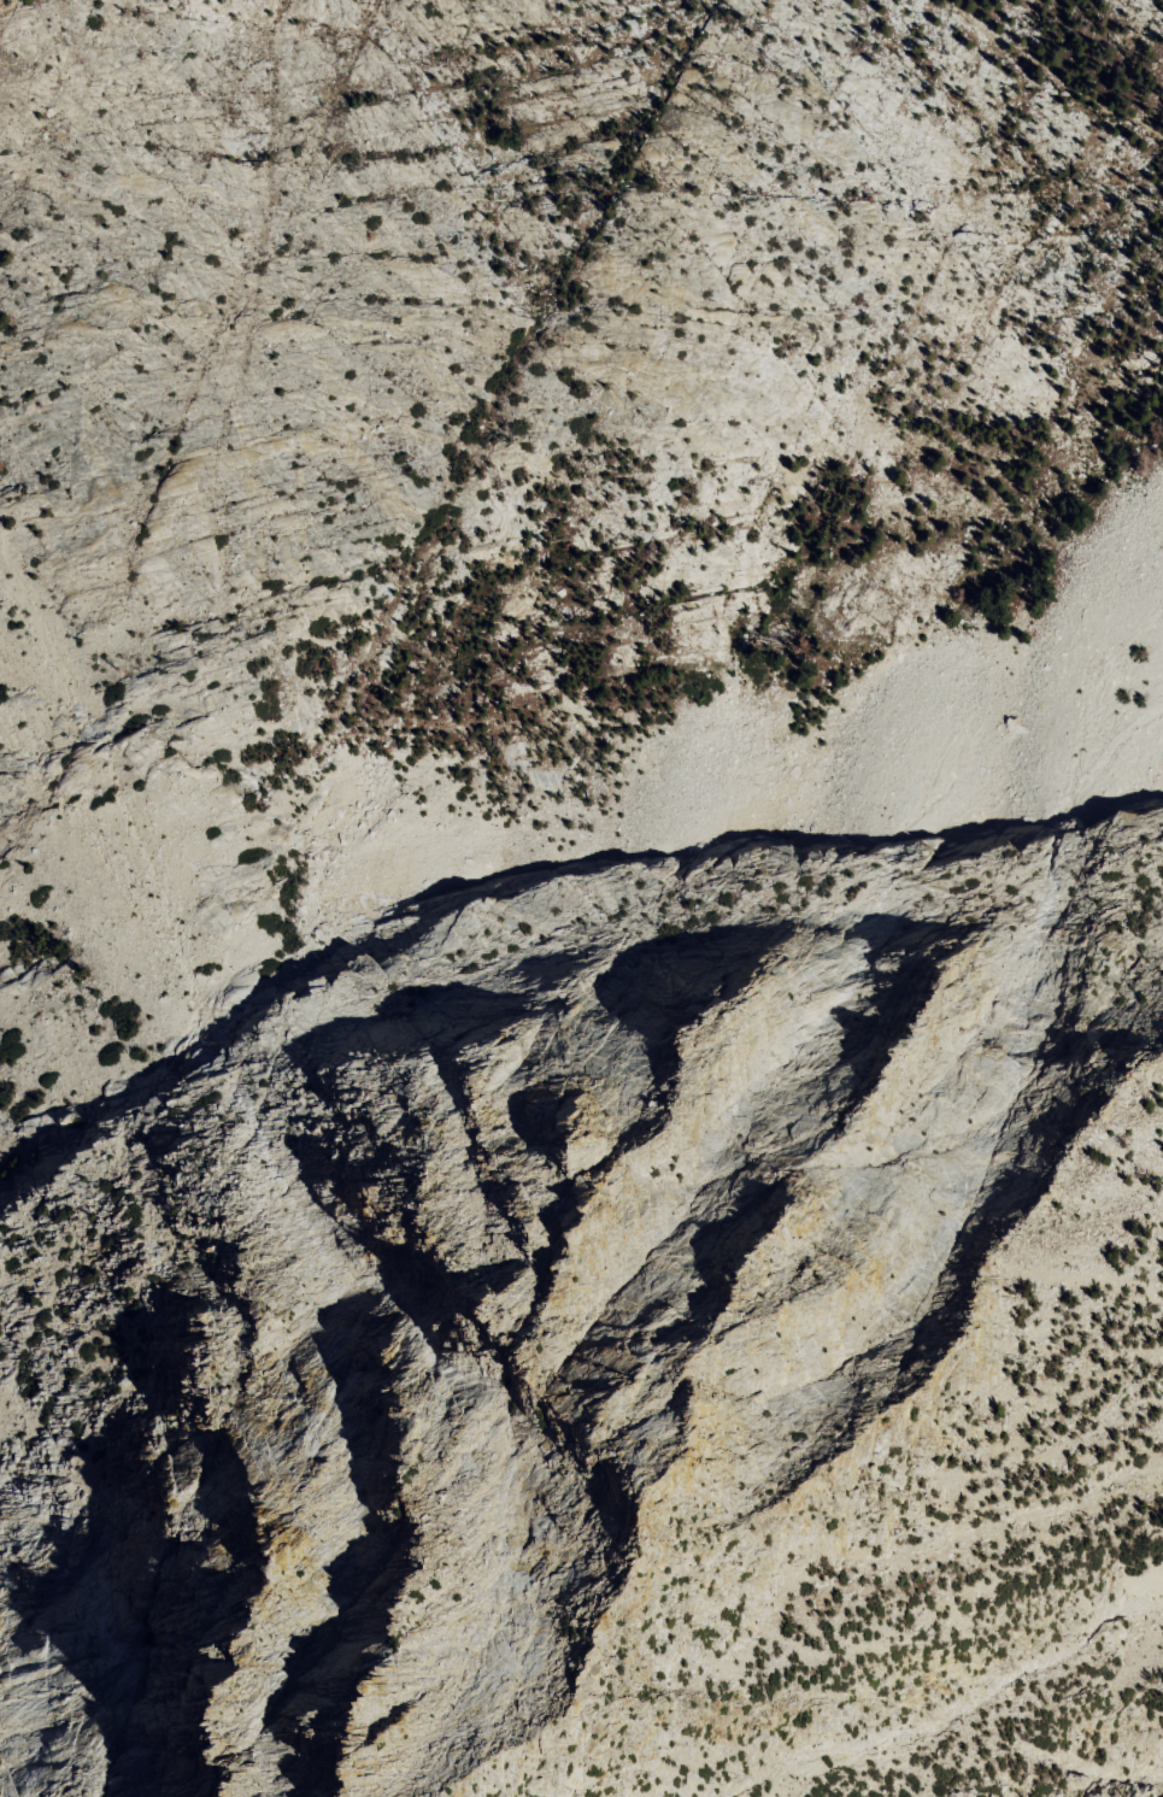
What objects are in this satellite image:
road: (5, 5)
road: (1050, 78)

